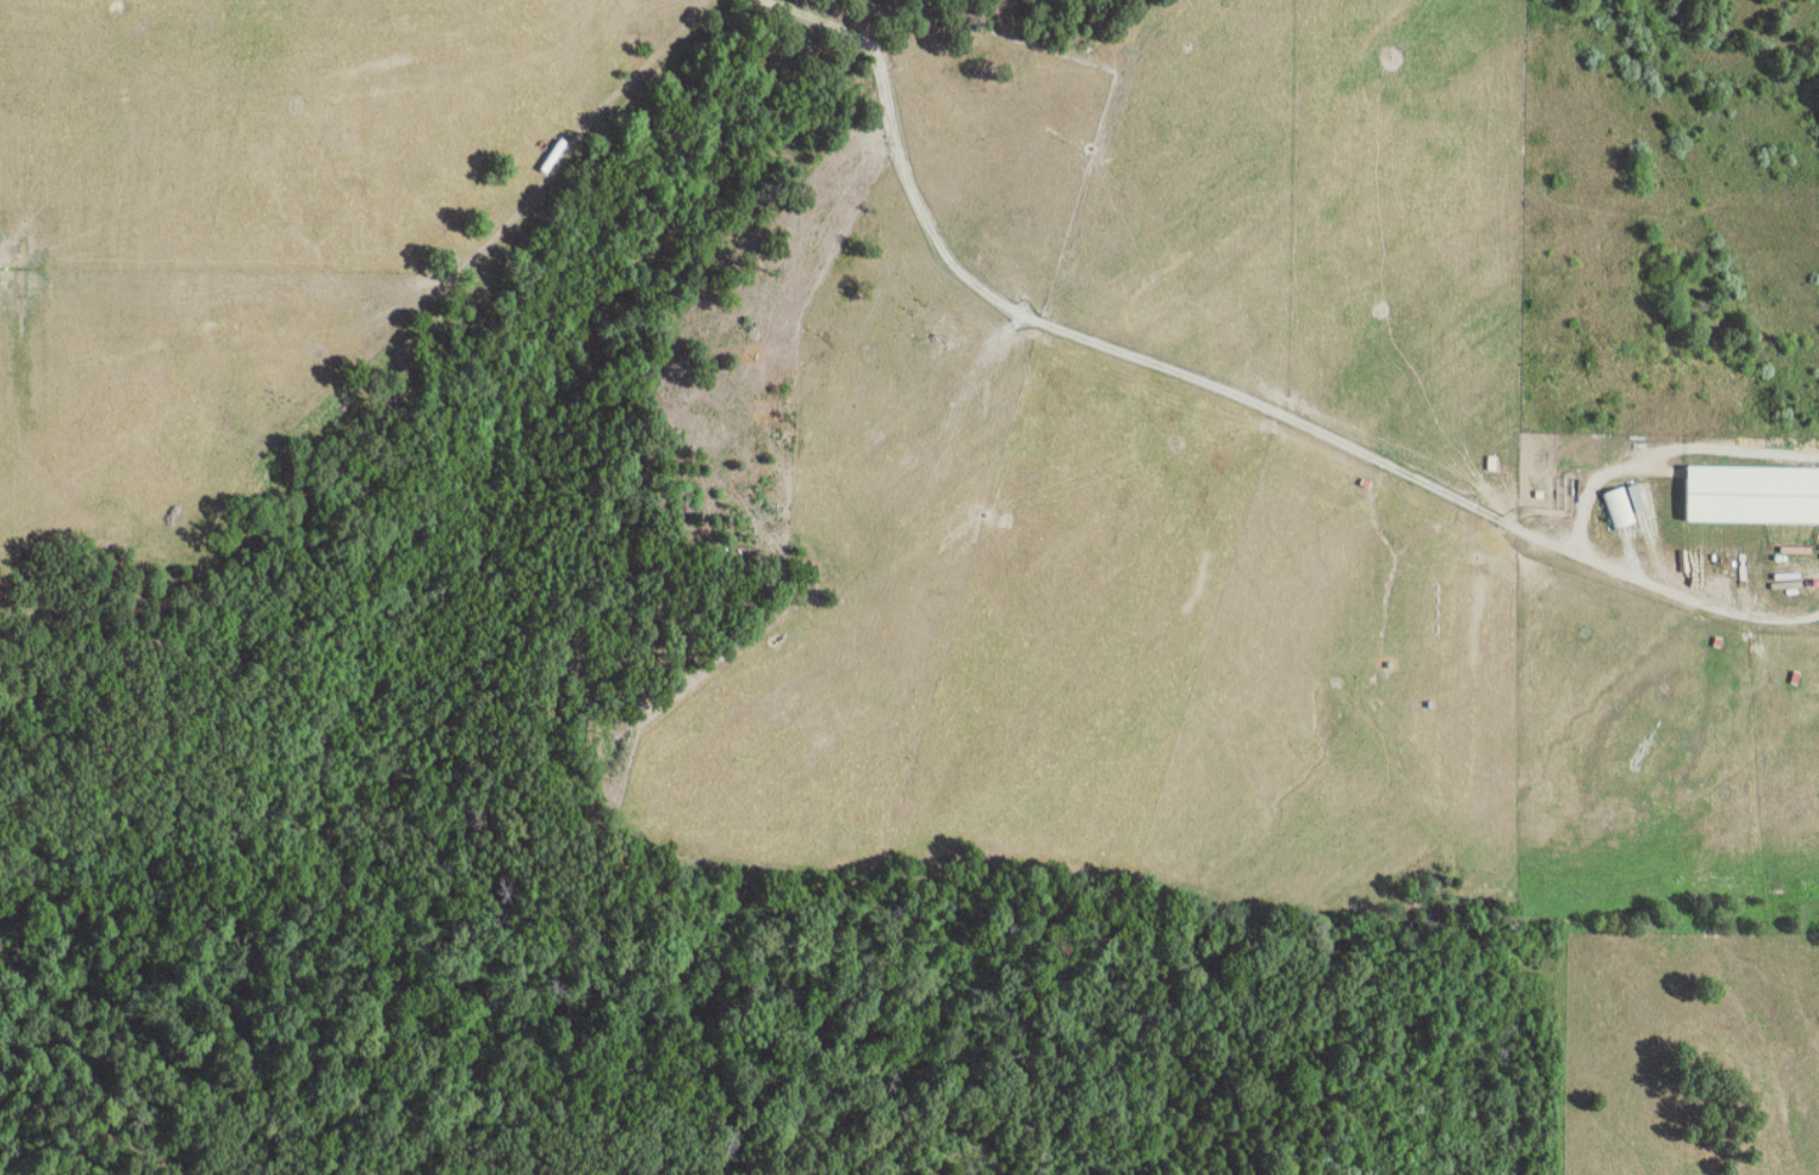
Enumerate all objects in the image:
building: (1752, 493)
building: (1621, 506)
road: (1581, 528)

